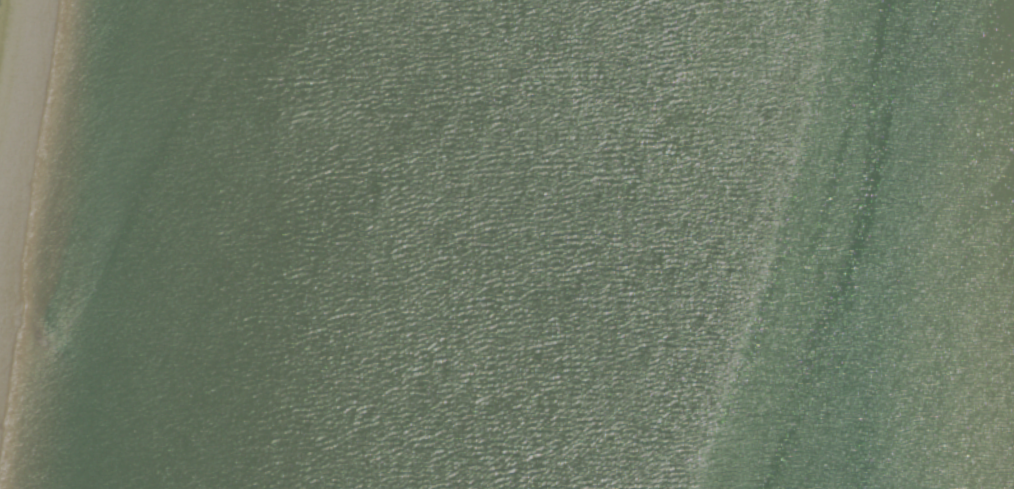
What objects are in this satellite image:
river: (804, 244)

